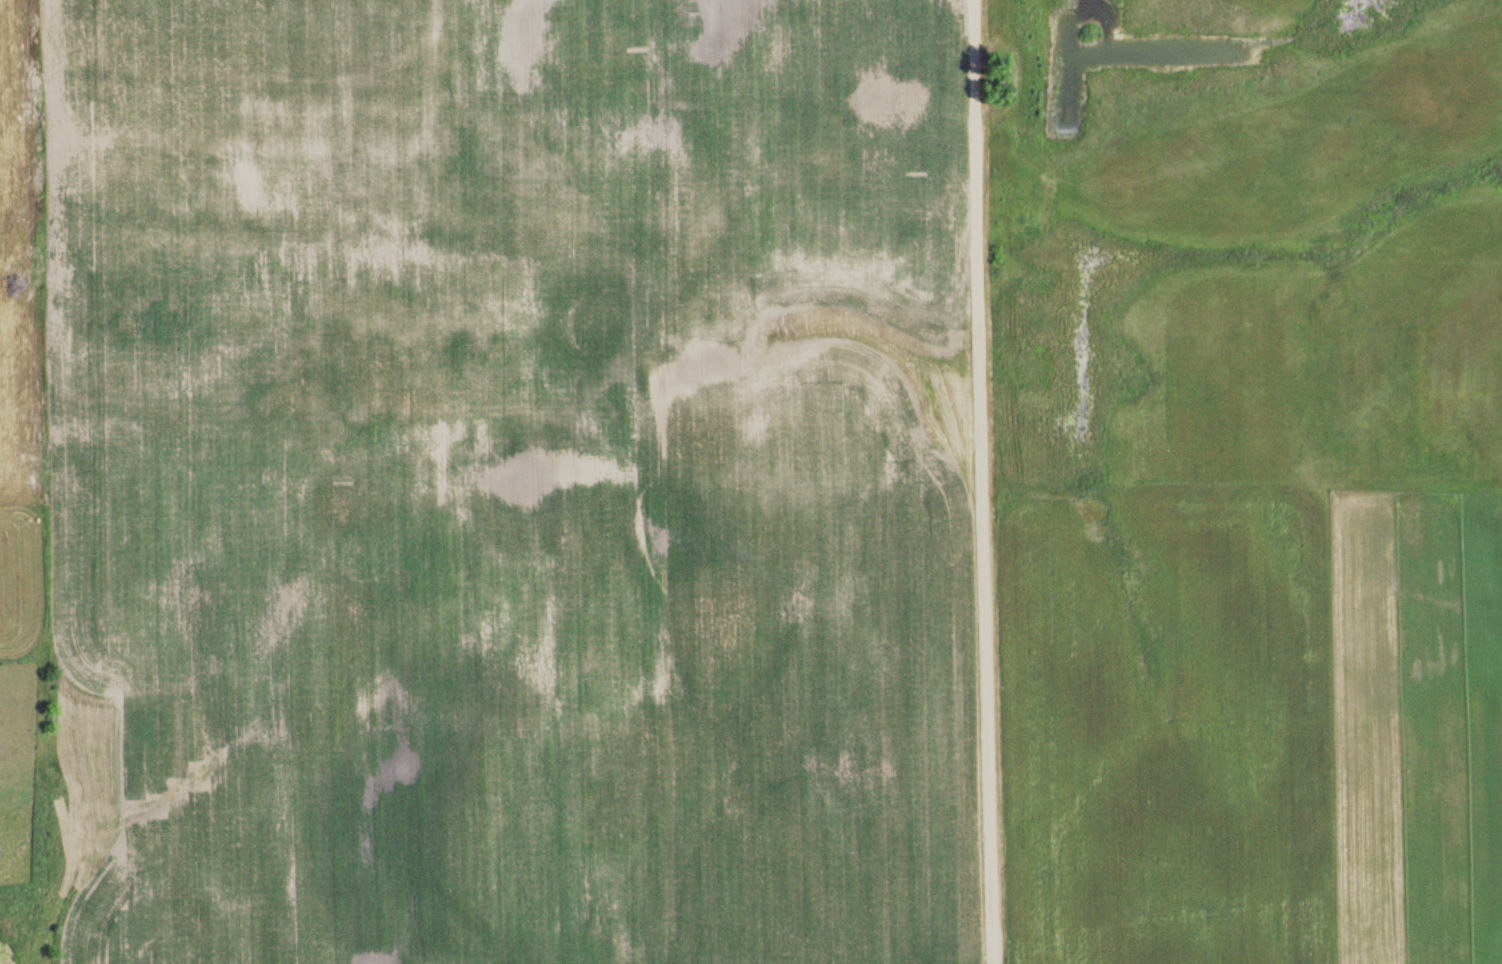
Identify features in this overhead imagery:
road: (983, 482)

